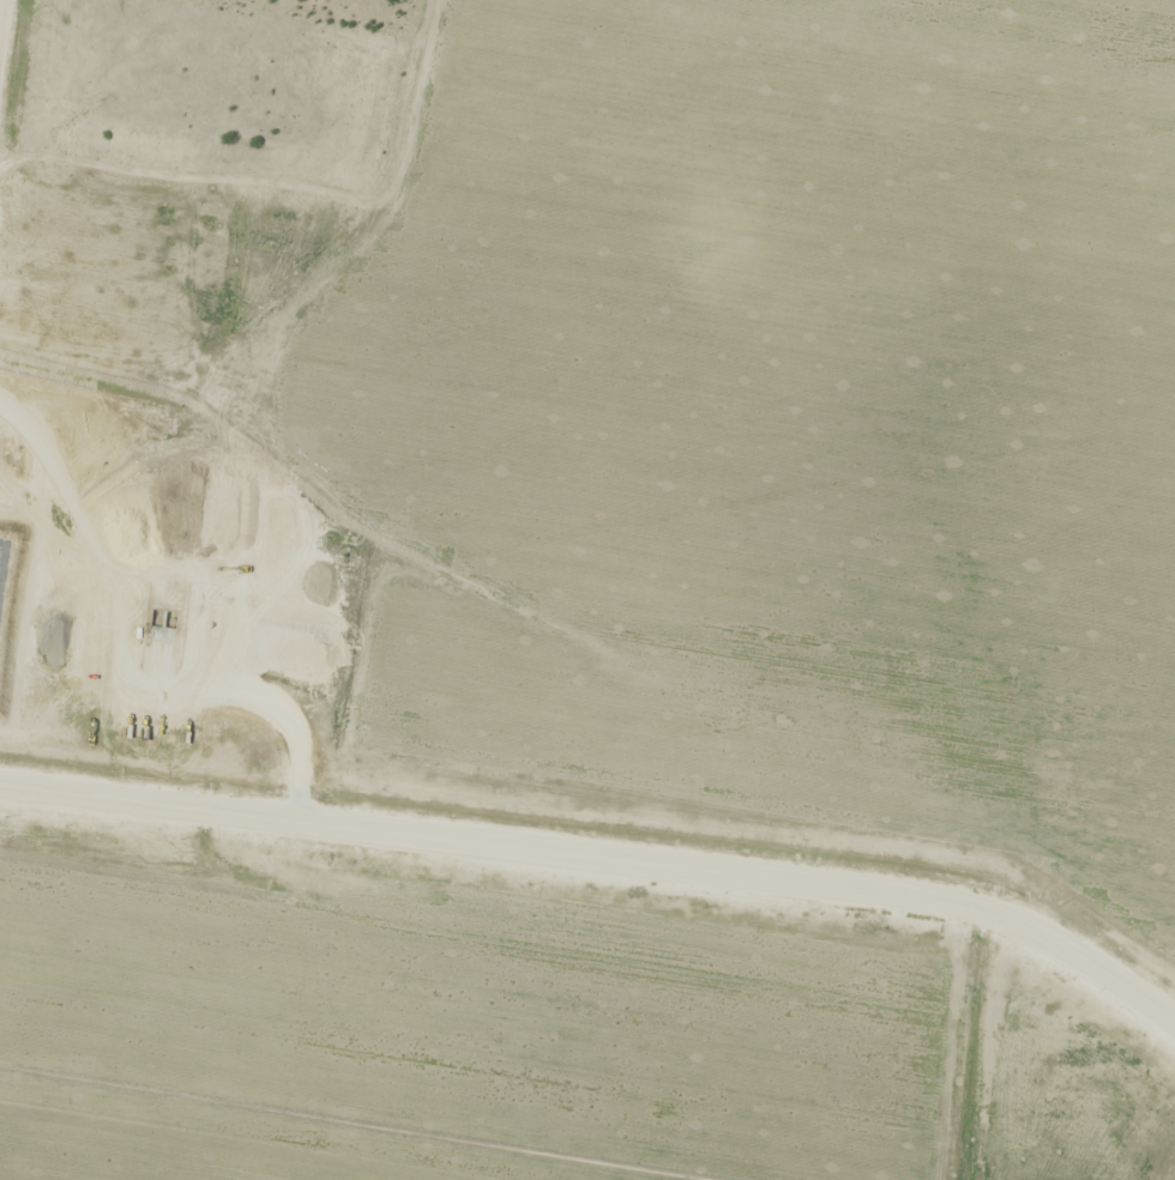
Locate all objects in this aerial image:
landfill: (587, 589)
road: (602, 857)

